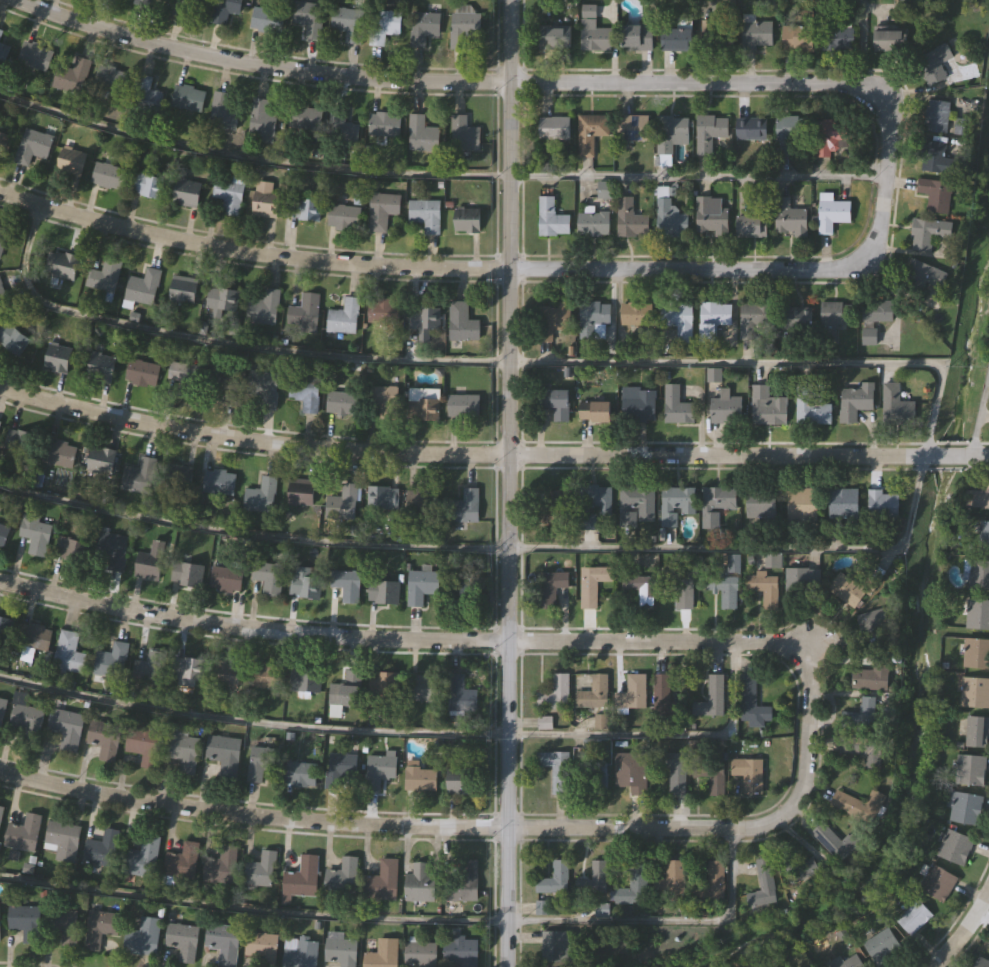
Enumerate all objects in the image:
building: (151, 3)
building: (185, 7)
building: (224, 10)
building: (309, 16)
building: (267, 17)
building: (348, 21)
building: (383, 23)
building: (463, 25)
building: (423, 26)
building: (835, 30)
building: (0, 32)
building: (717, 32)
building: (757, 32)
building: (637, 36)
building: (554, 37)
building: (796, 37)
building: (596, 38)
building: (676, 38)
building: (890, 39)
road: (862, 42)
building: (4, 48)
building: (34, 54)
building: (933, 63)
building: (72, 74)
building: (112, 80)
road: (485, 81)
building: (147, 92)
building: (188, 96)
building: (225, 109)
building: (936, 115)
building: (261, 119)
building: (311, 122)
building: (384, 123)
building: (960, 125)
building: (632, 127)
building: (553, 128)
building: (751, 129)
building: (790, 129)
building: (589, 131)
building: (709, 131)
building: (421, 132)
building: (464, 133)
building: (669, 133)
building: (348, 135)
building: (829, 135)
building: (3, 139)
building: (32, 144)
building: (935, 158)
building: (71, 162)
building: (107, 174)
road: (437, 175)
building: (147, 183)
building: (187, 192)
building: (228, 193)
building: (934, 194)
building: (265, 198)
building: (306, 207)
building: (381, 208)
building: (425, 213)
building: (832, 214)
building: (344, 216)
building: (710, 216)
building: (669, 217)
building: (467, 218)
building: (551, 218)
building: (789, 218)
building: (629, 219)
building: (592, 223)
building: (750, 225)
building: (927, 232)
building: (2, 235)
building: (61, 263)
road: (471, 269)
building: (103, 276)
building: (919, 276)
building: (142, 286)
building: (183, 288)
building: (3, 296)
building: (222, 300)
building: (263, 306)
building: (304, 309)
building: (381, 309)
building: (594, 312)
building: (636, 313)
building: (836, 313)
building: (343, 315)
building: (423, 316)
building: (557, 316)
building: (712, 318)
building: (753, 318)
building: (795, 318)
building: (873, 318)
building: (677, 319)
building: (461, 320)
building: (12, 337)
building: (57, 357)
building: (101, 365)
building: (141, 371)
building: (184, 377)
building: (222, 380)
building: (260, 386)
building: (304, 392)
building: (384, 400)
building: (342, 401)
building: (853, 401)
building: (422, 402)
building: (555, 402)
building: (463, 404)
building: (676, 405)
building: (895, 405)
building: (638, 406)
building: (766, 406)
building: (725, 408)
building: (812, 409)
road: (933, 409)
building: (594, 411)
building: (988, 411)
road: (979, 417)
building: (0, 423)
building: (18, 446)
building: (58, 452)
road: (490, 455)
building: (101, 459)
building: (140, 474)
building: (217, 481)
road: (507, 483)
building: (301, 491)
building: (260, 494)
building: (383, 496)
building: (978, 497)
building: (423, 499)
building: (341, 502)
building: (760, 503)
building: (842, 503)
building: (593, 504)
building: (675, 504)
building: (715, 504)
building: (802, 504)
building: (881, 504)
building: (634, 505)
building: (463, 506)
building: (553, 508)
building: (3, 532)
building: (35, 533)
building: (983, 536)
building: (93, 549)
building: (149, 559)
building: (732, 562)
building: (186, 573)
building: (979, 574)
building: (268, 576)
building: (225, 578)
building: (305, 581)
building: (591, 583)
building: (797, 583)
building: (346, 584)
building: (421, 584)
building: (679, 584)
building: (548, 587)
building: (763, 587)
building: (639, 588)
building: (722, 588)
building: (851, 589)
building: (384, 590)
building: (469, 591)
building: (977, 614)
building: (871, 621)
building: (4, 629)
building: (35, 636)
road: (399, 639)
building: (68, 652)
building: (976, 653)
building: (111, 659)
building: (151, 665)
building: (188, 669)
building: (226, 672)
building: (269, 674)
building: (872, 675)
building: (304, 679)
building: (383, 682)
building: (420, 686)
building: (345, 688)
building: (975, 691)
building: (554, 693)
building: (592, 693)
building: (631, 693)
building: (459, 694)
building: (664, 697)
building: (710, 698)
building: (749, 699)
building: (2, 707)
building: (860, 712)
building: (25, 721)
building: (66, 727)
building: (976, 731)
road: (410, 732)
building: (104, 736)
building: (144, 743)
building: (862, 748)
building: (184, 750)
building: (225, 755)
building: (261, 761)
building: (339, 768)
building: (378, 768)
building: (969, 769)
building: (556, 770)
building: (670, 771)
building: (629, 772)
building: (300, 773)
building: (711, 774)
building: (747, 774)
building: (459, 777)
building: (593, 777)
building: (420, 778)
building: (856, 804)
building: (965, 808)
building: (1, 810)
road: (484, 825)
building: (23, 832)
building: (63, 838)
building: (833, 842)
building: (102, 847)
building: (954, 847)
building: (141, 856)
building: (183, 859)
building: (220, 865)
building: (794, 866)
building: (260, 869)
building: (342, 875)
building: (301, 876)
building: (553, 878)
building: (592, 879)
building: (671, 879)
building: (380, 880)
building: (462, 880)
building: (714, 881)
building: (420, 882)
building: (937, 882)
building: (761, 884)
building: (632, 885)
building: (540, 907)
building: (913, 918)
road: (982, 918)
road: (407, 920)
building: (25, 921)
building: (0, 923)
building: (64, 924)
building: (99, 927)
road: (964, 929)
building: (146, 935)
building: (182, 939)
building: (223, 941)
building: (260, 944)
building: (553, 945)
building: (881, 945)
building: (340, 949)
building: (460, 950)
building: (303, 952)
building: (380, 952)
building: (420, 953)
building: (847, 962)

